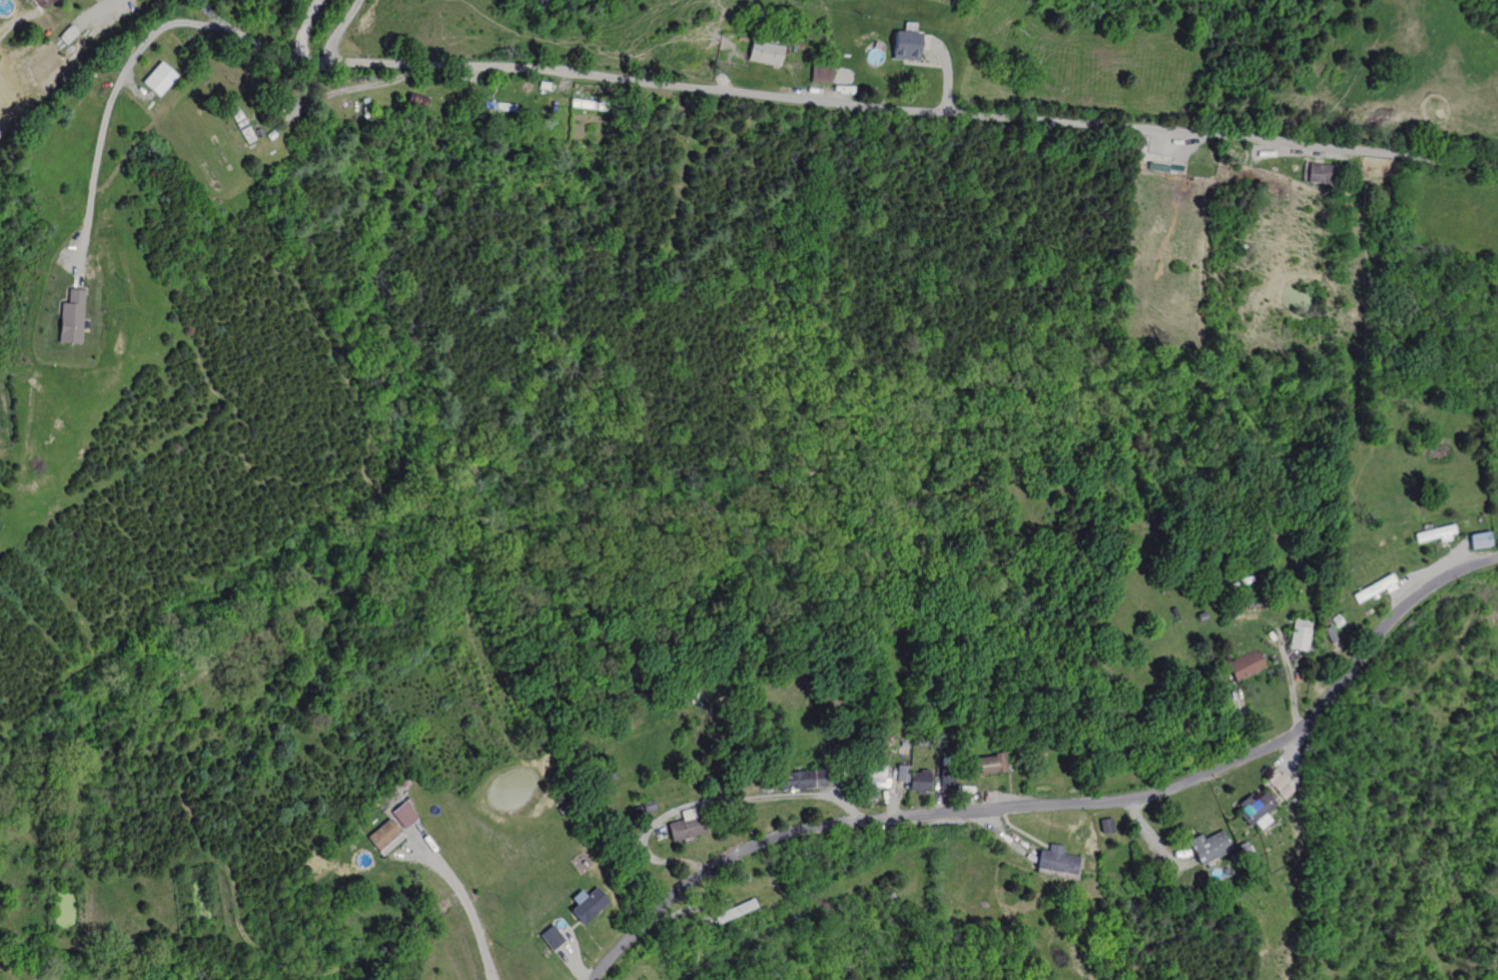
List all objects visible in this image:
building: (47, 3)
road: (96, 12)
road: (306, 27)
road: (341, 29)
building: (72, 34)
building: (905, 45)
building: (765, 53)
road: (922, 64)
road: (945, 68)
building: (821, 70)
building: (161, 79)
road: (797, 80)
road: (495, 83)
building: (543, 85)
road: (136, 87)
road: (350, 90)
building: (416, 98)
building: (588, 103)
road: (839, 103)
building: (497, 105)
building: (364, 106)
building: (462, 114)
road: (106, 118)
building: (231, 124)
building: (240, 125)
building: (257, 131)
building: (269, 134)
road: (1173, 141)
road: (1280, 148)
building: (1157, 165)
building: (1296, 166)
building: (1322, 172)
building: (72, 316)
building: (1464, 522)
building: (1434, 534)
building: (1477, 540)
road: (1468, 557)
road: (1425, 573)
building: (1246, 580)
building: (1233, 586)
building: (1374, 588)
building: (1173, 611)
building: (1201, 616)
building: (1335, 620)
building: (1329, 633)
building: (1301, 634)
building: (1247, 664)
road: (1291, 682)
road: (1242, 723)
building: (628, 727)
building: (945, 730)
building: (872, 746)
building: (1039, 752)
road: (1292, 756)
building: (960, 757)
road: (1284, 758)
building: (986, 763)
building: (958, 769)
building: (900, 773)
building: (873, 774)
building: (945, 774)
building: (1272, 776)
building: (706, 778)
building: (800, 779)
building: (918, 780)
building: (1280, 781)
building: (404, 782)
road: (896, 790)
building: (1284, 790)
road: (890, 792)
road: (929, 792)
road: (936, 792)
road: (1296, 796)
building: (407, 801)
road: (708, 802)
road: (989, 802)
road: (1060, 804)
building: (647, 806)
building: (637, 809)
building: (1255, 809)
building: (402, 815)
building: (685, 825)
building: (1107, 826)
road: (1022, 831)
building: (381, 834)
road: (1175, 835)
road: (1005, 837)
road: (1152, 842)
building: (1209, 846)
building: (1242, 846)
building: (1059, 859)
road: (462, 895)
building: (585, 903)
building: (1213, 905)
building: (738, 911)
road: (673, 915)
road: (571, 927)
building: (549, 937)
road: (569, 942)
road: (571, 963)

